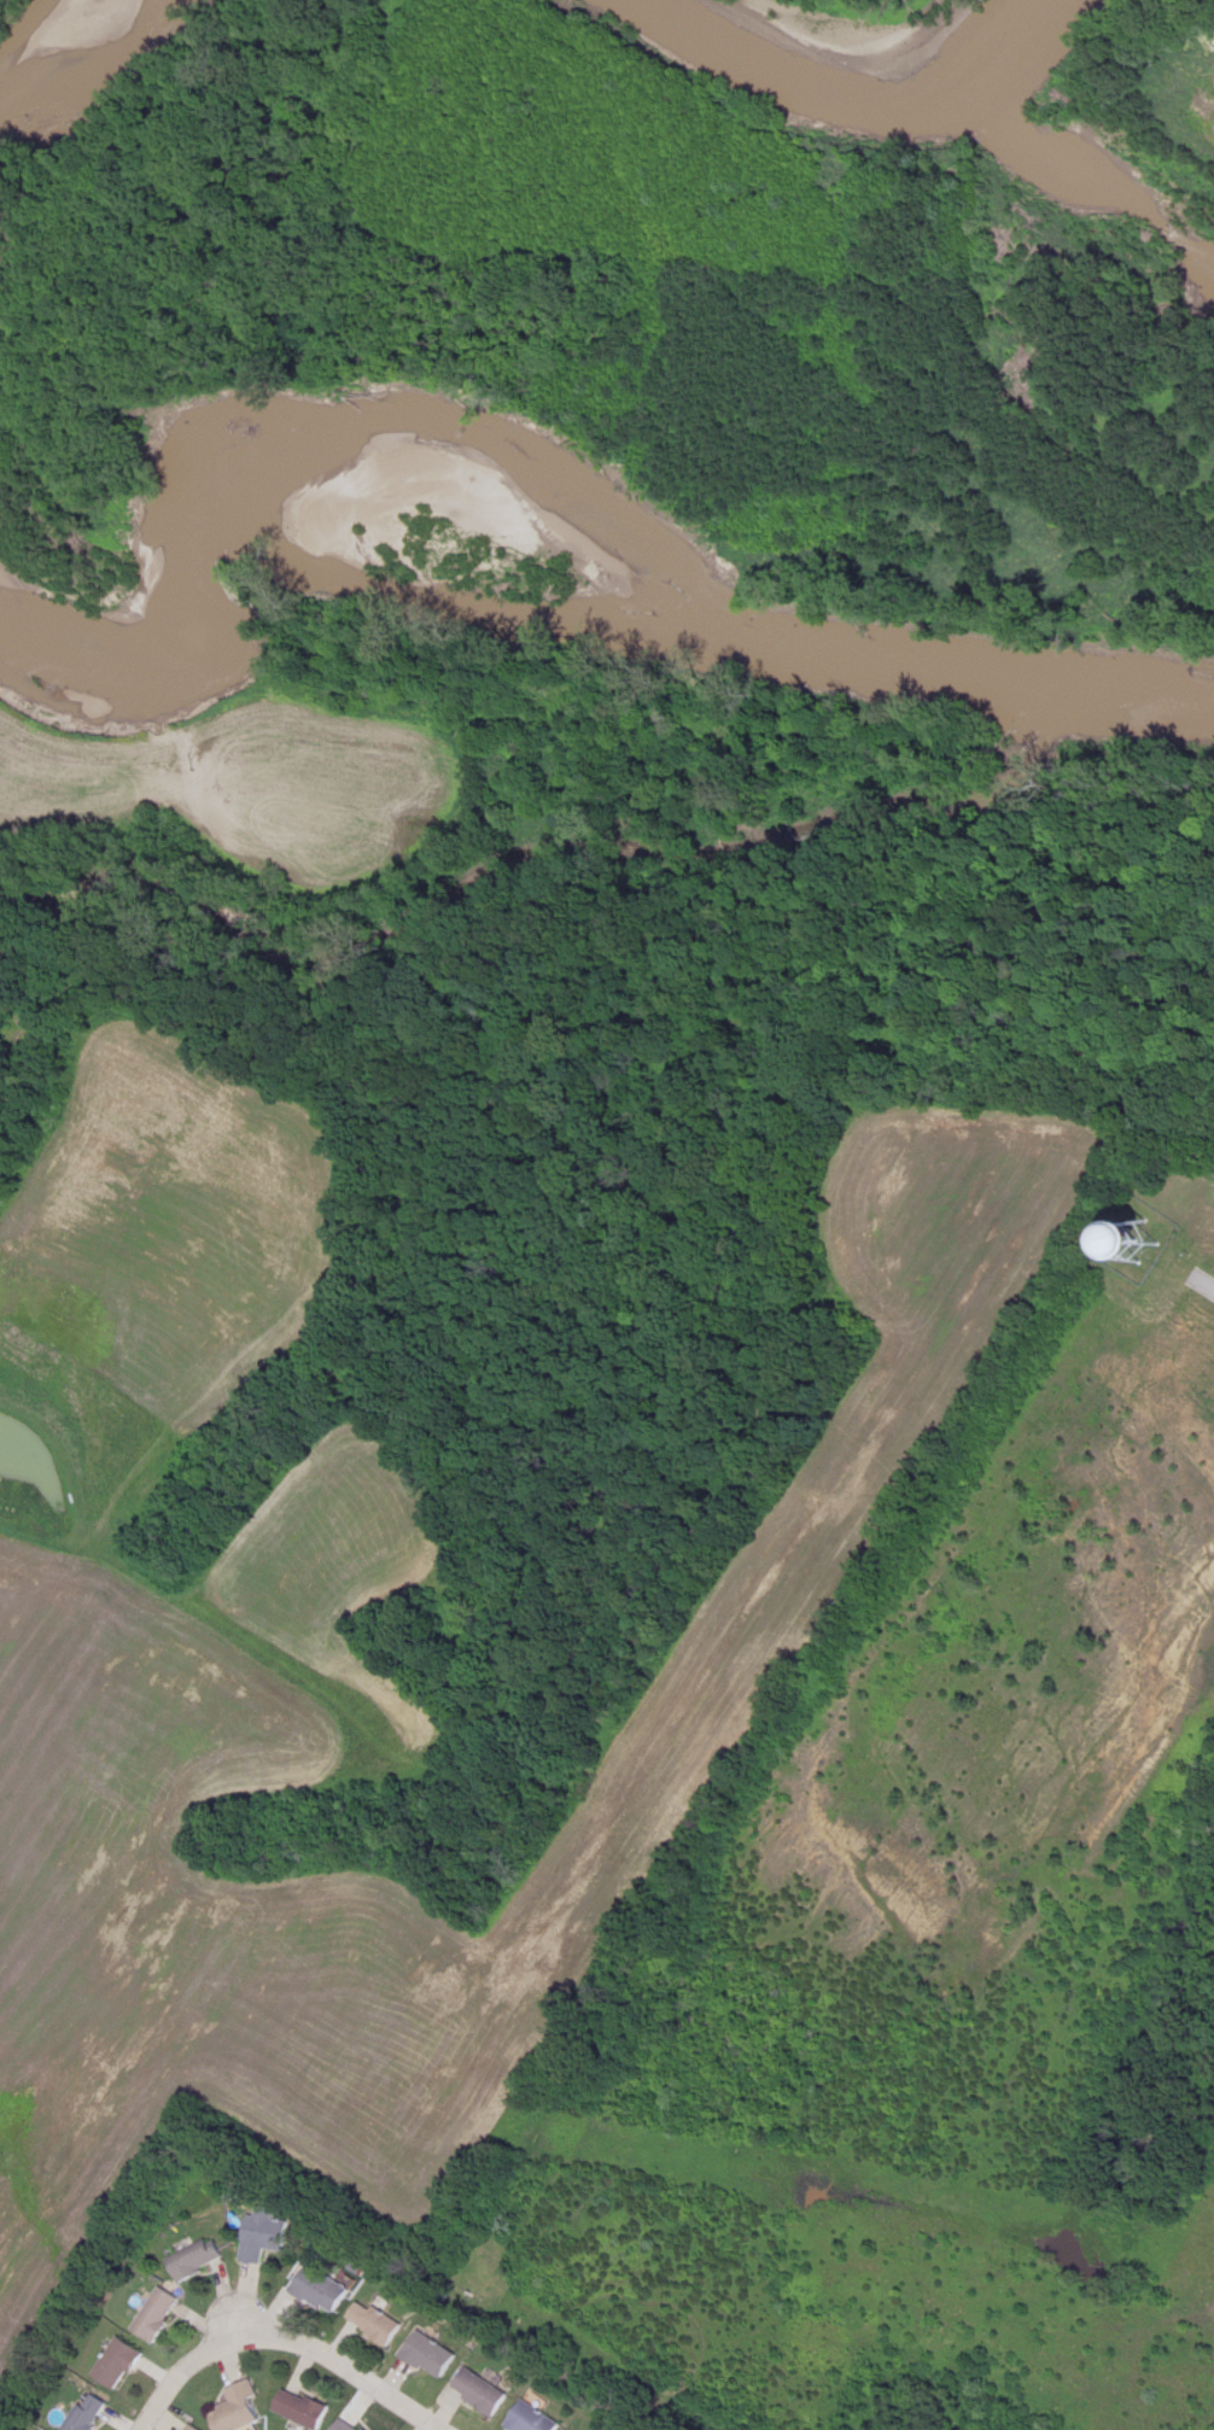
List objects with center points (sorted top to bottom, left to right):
river: (36, 33)
river: (882, 39)
river: (562, 576)
water tower: (1126, 1238)
road: (1203, 1289)
building: (259, 2233)
building: (193, 2259)
building: (316, 2290)
building: (153, 2314)
building: (370, 2323)
road: (278, 2346)
building: (425, 2355)
building: (113, 2364)
building: (475, 2391)
building: (235, 2408)
building: (83, 2413)
building: (527, 2418)
building: (343, 2425)
building: (188, 2428)

